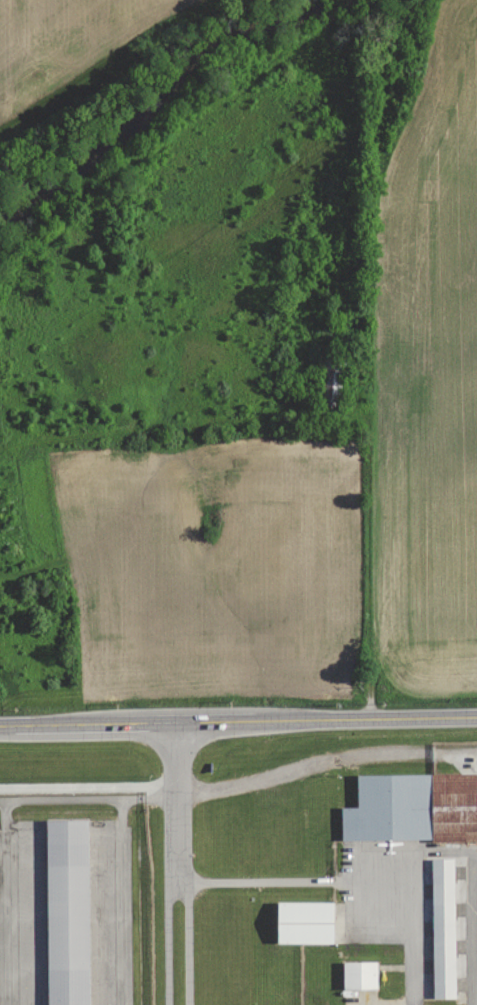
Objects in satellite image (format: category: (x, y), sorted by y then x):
road: (238, 729)
road: (84, 803)
road: (1, 804)
building: (413, 808)
road: (166, 867)
road: (187, 867)
airport: (239, 876)
road: (254, 885)
building: (66, 916)
building: (307, 922)
building: (444, 928)
building: (361, 975)

